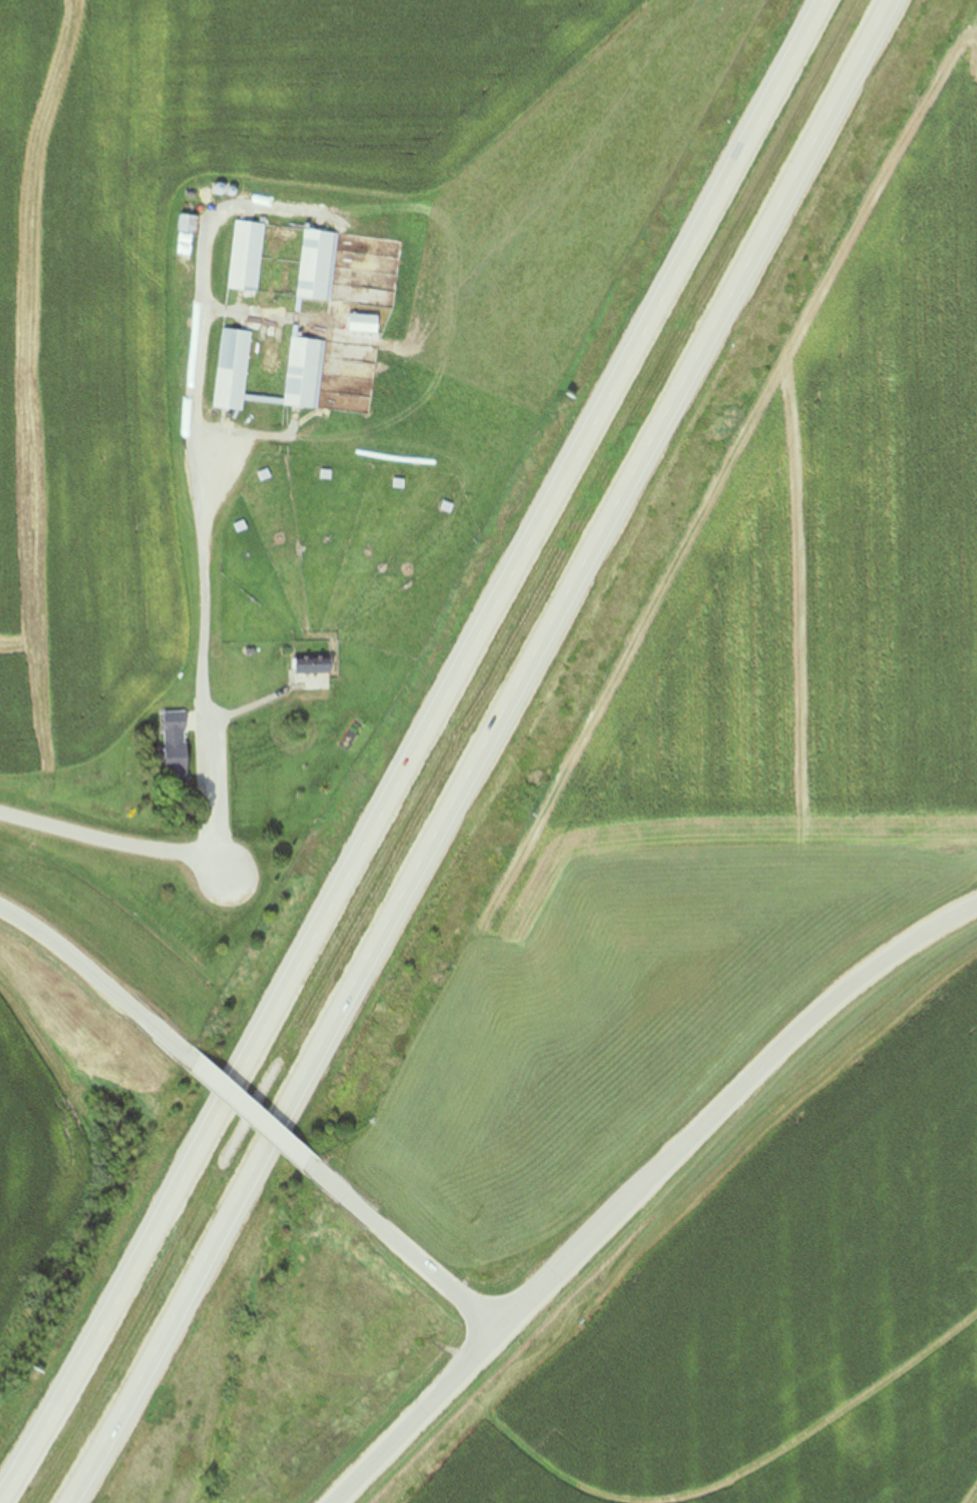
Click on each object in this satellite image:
building: (189, 225)
building: (248, 257)
building: (317, 266)
building: (365, 323)
building: (233, 369)
building: (305, 372)
road: (198, 464)
building: (316, 666)
building: (179, 725)
road: (412, 744)
road: (490, 753)
building: (177, 761)
road: (114, 845)
road: (103, 989)
road: (719, 1096)
road: (255, 1123)
road: (403, 1253)
road: (416, 1419)

